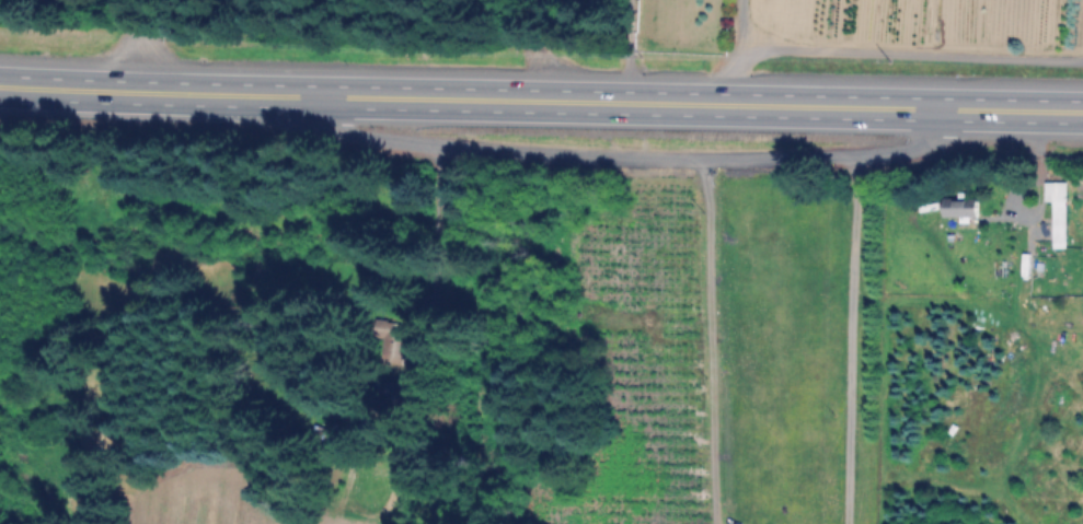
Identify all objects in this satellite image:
road: (735, 20)
road: (136, 44)
road: (907, 46)
road: (626, 51)
road: (724, 73)
road: (541, 102)
road: (504, 155)
road: (836, 159)
building: (963, 206)
building: (1060, 210)
road: (848, 340)
road: (714, 346)

